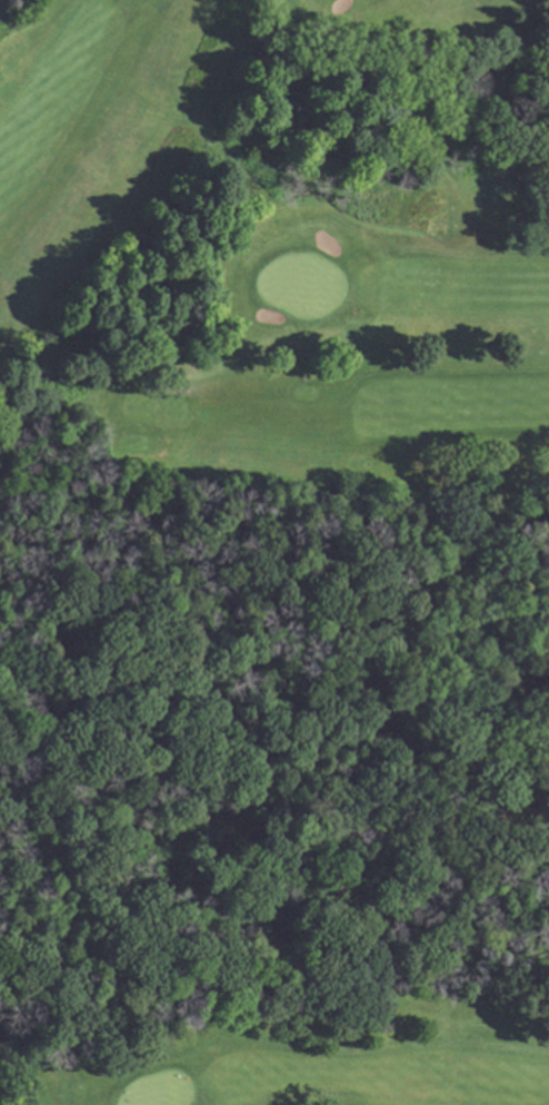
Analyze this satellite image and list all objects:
park: (274, 552)
park: (274, 552)

